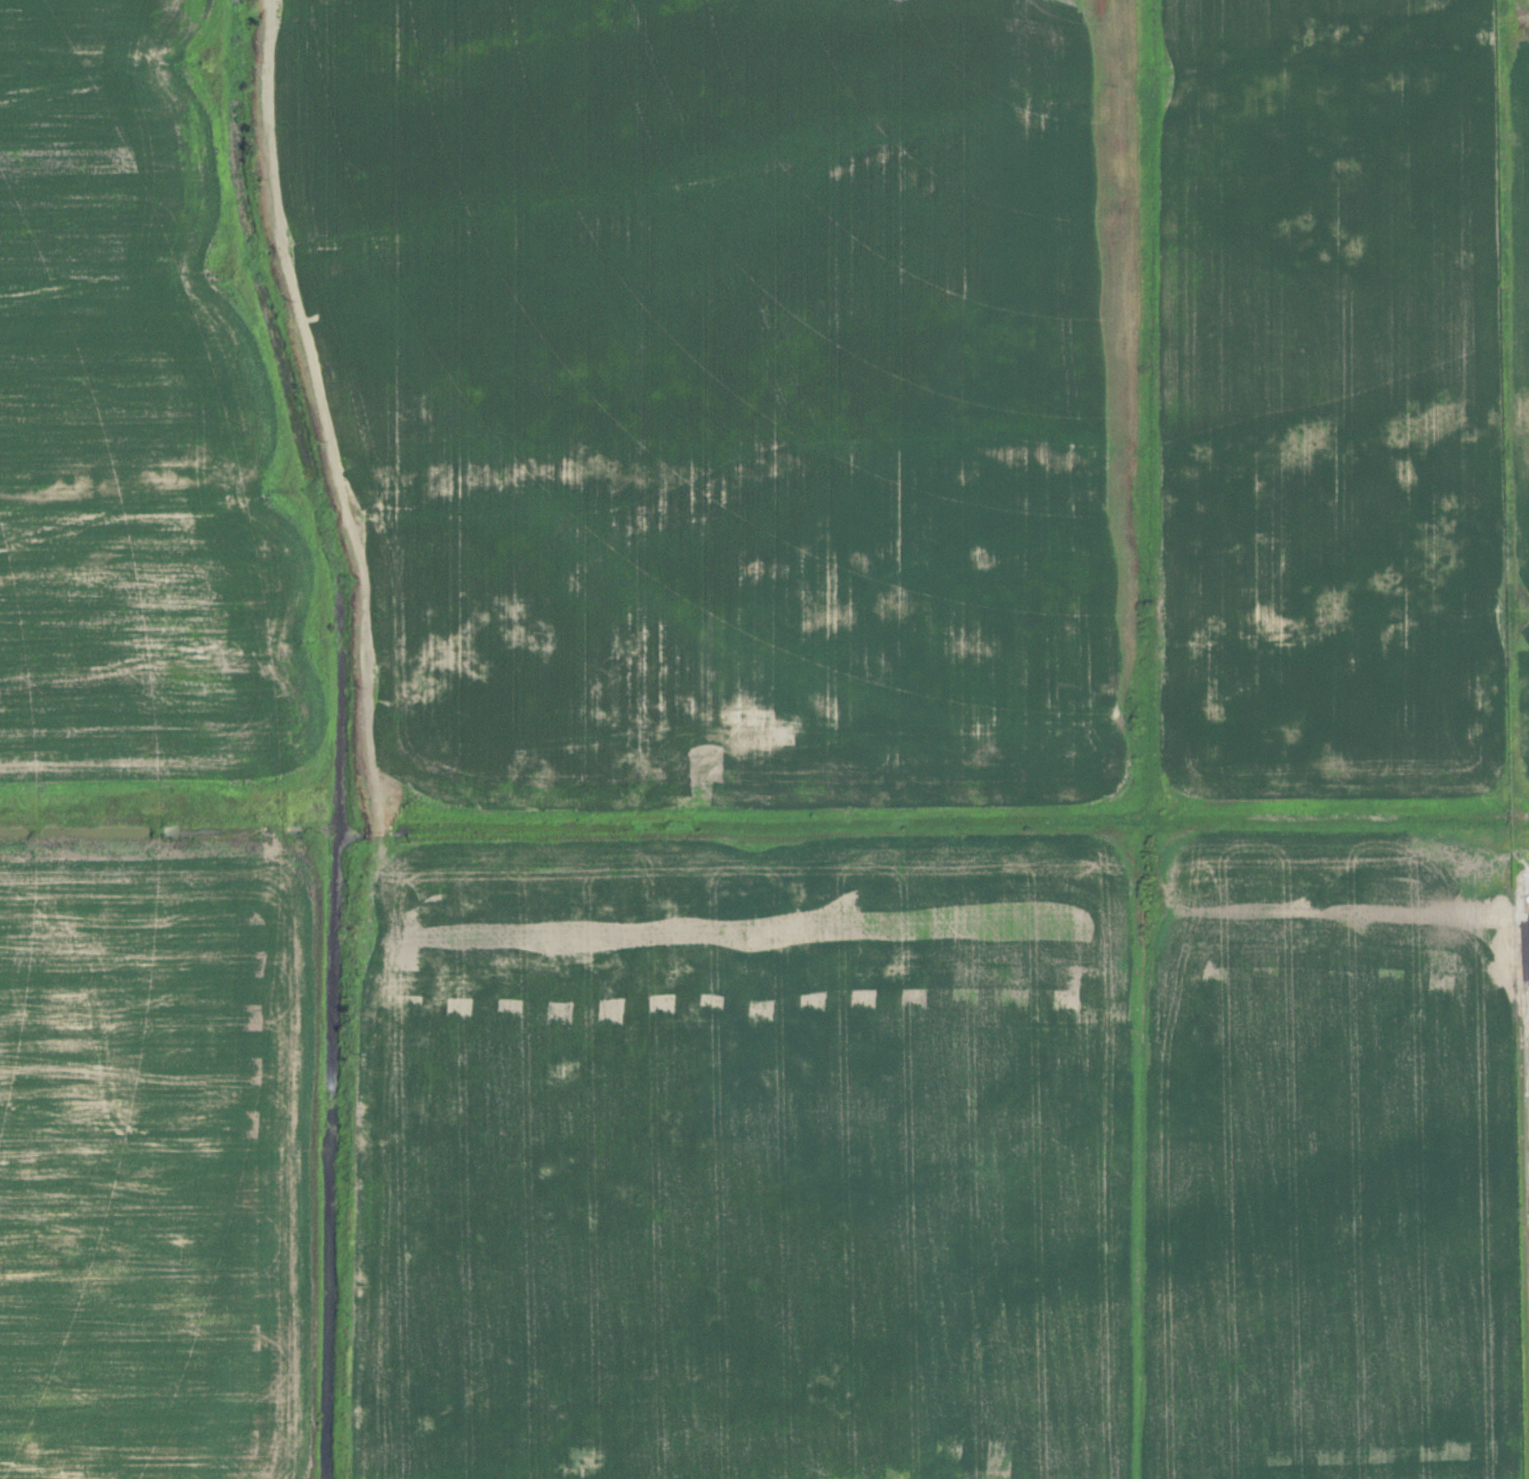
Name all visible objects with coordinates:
airport: (1515, 599)

